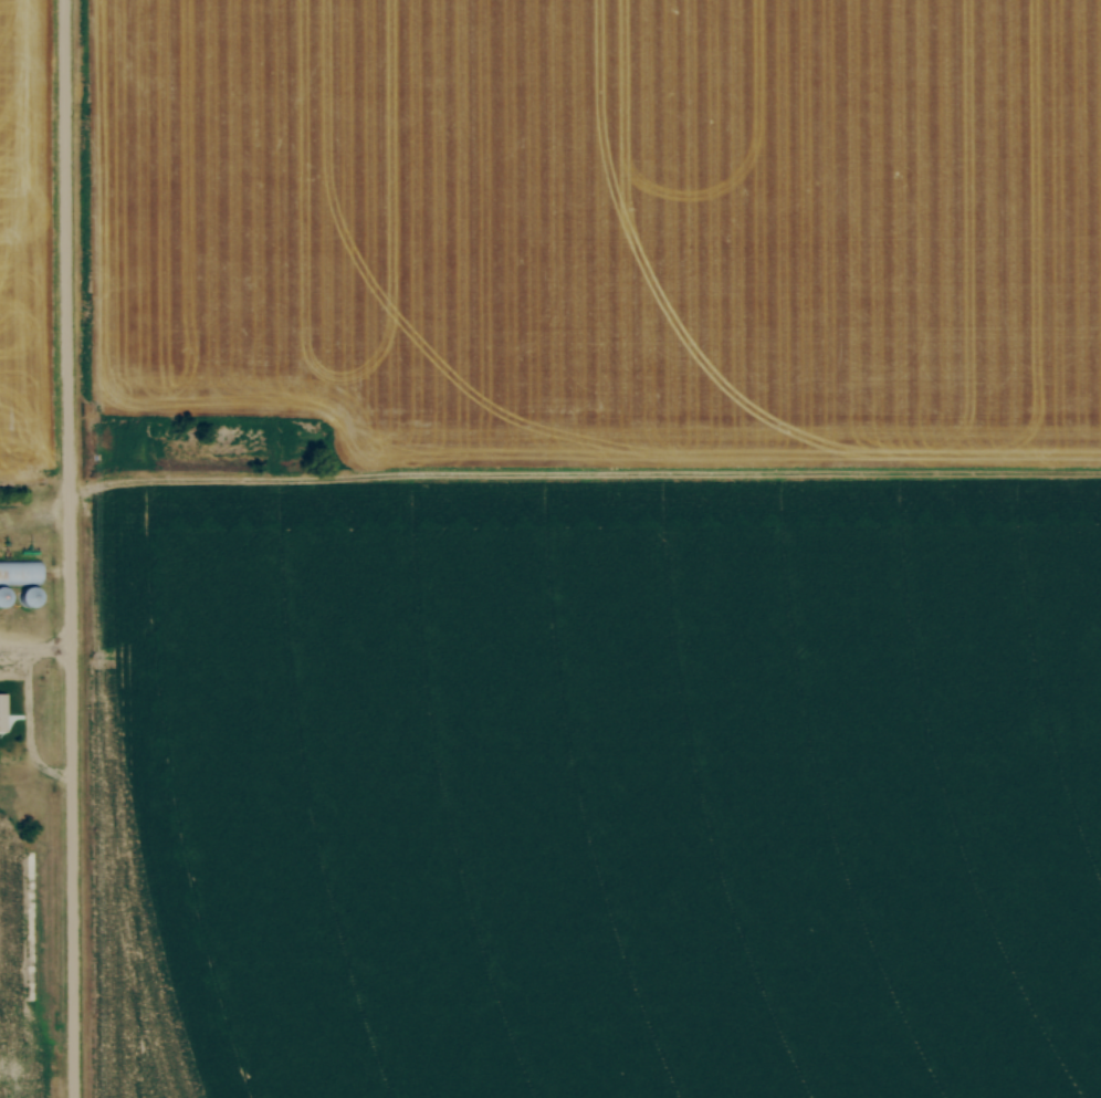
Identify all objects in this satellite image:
road: (72, 548)
building: (31, 597)
building: (0, 600)
silo: (0, 600)
building: (20, 602)
silo: (20, 602)
building: (3, 713)

